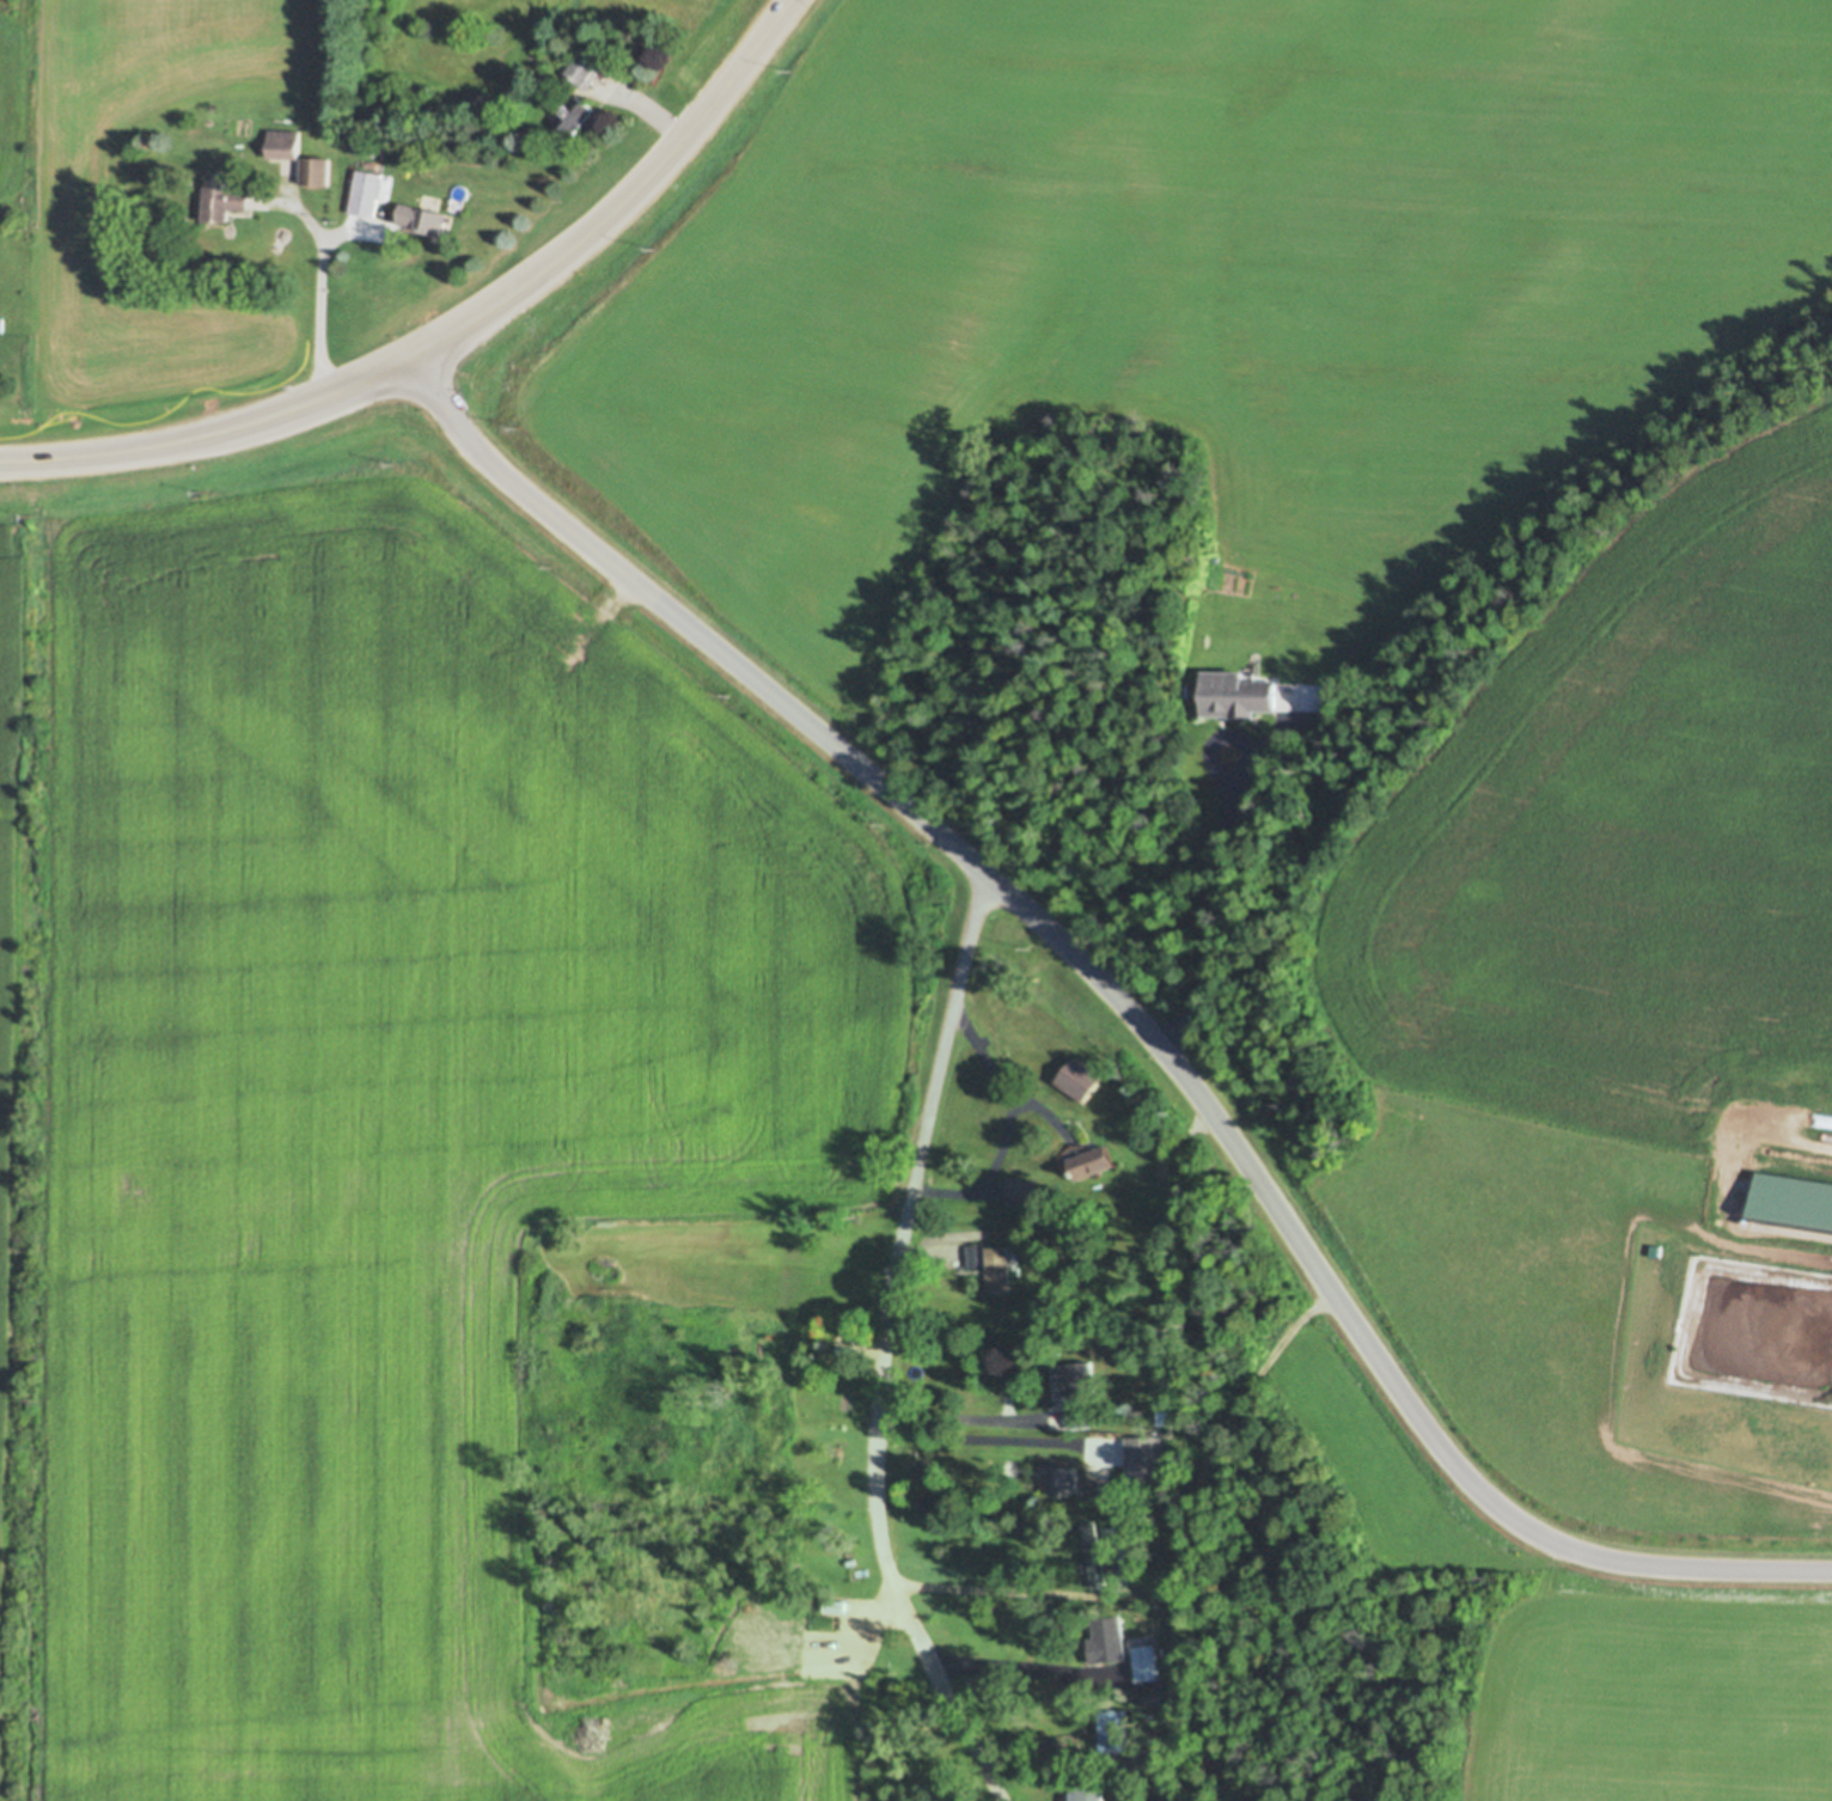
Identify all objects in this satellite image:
building: (584, 65)
building: (417, 91)
building: (575, 112)
building: (285, 142)
building: (366, 146)
building: (317, 170)
building: (367, 191)
building: (226, 201)
building: (425, 218)
road: (328, 293)
road: (451, 341)
building: (1236, 694)
road: (1201, 900)
road: (1126, 1007)
crop: (10, 1015)
building: (1079, 1077)
building: (1091, 1161)
building: (1020, 1189)
building: (997, 1268)
road: (883, 1347)
building: (1075, 1376)
road: (961, 1410)
building: (1077, 1414)
building: (1162, 1416)
road: (988, 1434)
building: (1137, 1447)
building: (1071, 1482)
building: (955, 1501)
building: (1142, 1528)
building: (1112, 1533)
building: (1092, 1551)
road: (985, 1582)
building: (1105, 1637)
building: (1143, 1660)
road: (1013, 1663)
building: (1147, 1696)
building: (1112, 1728)
building: (1144, 1756)
building: (1089, 1790)

